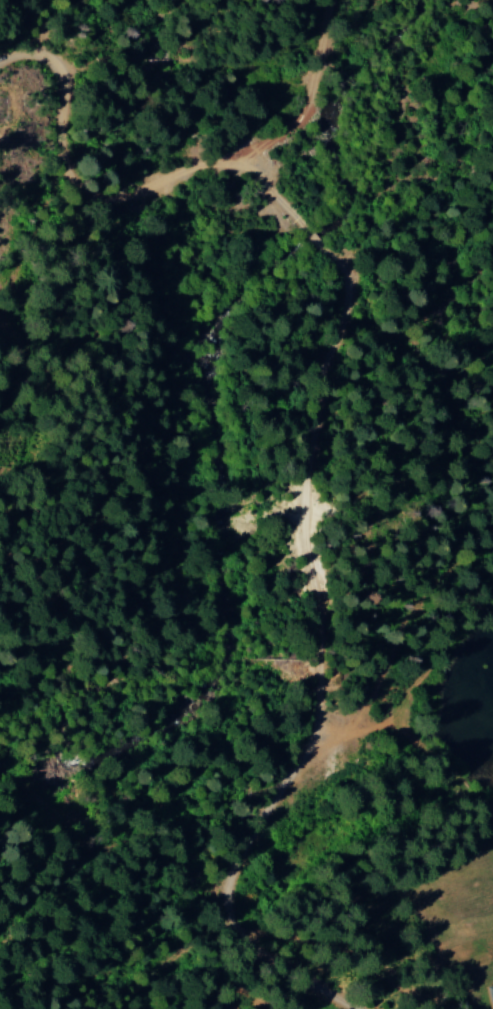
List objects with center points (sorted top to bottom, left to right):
road: (442, 422)
building: (490, 997)

